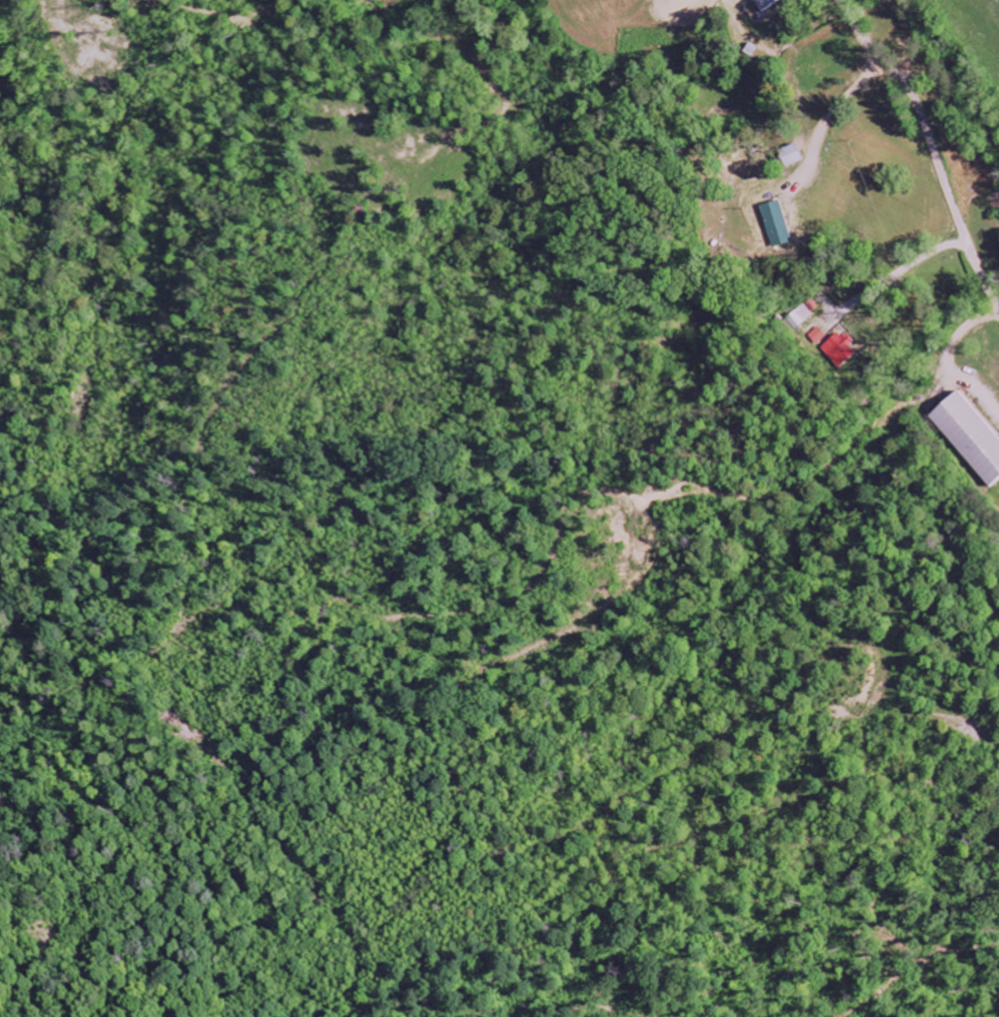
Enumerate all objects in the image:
road: (932, 145)
building: (777, 224)
building: (817, 336)
building: (839, 349)
road: (592, 430)
building: (970, 436)

